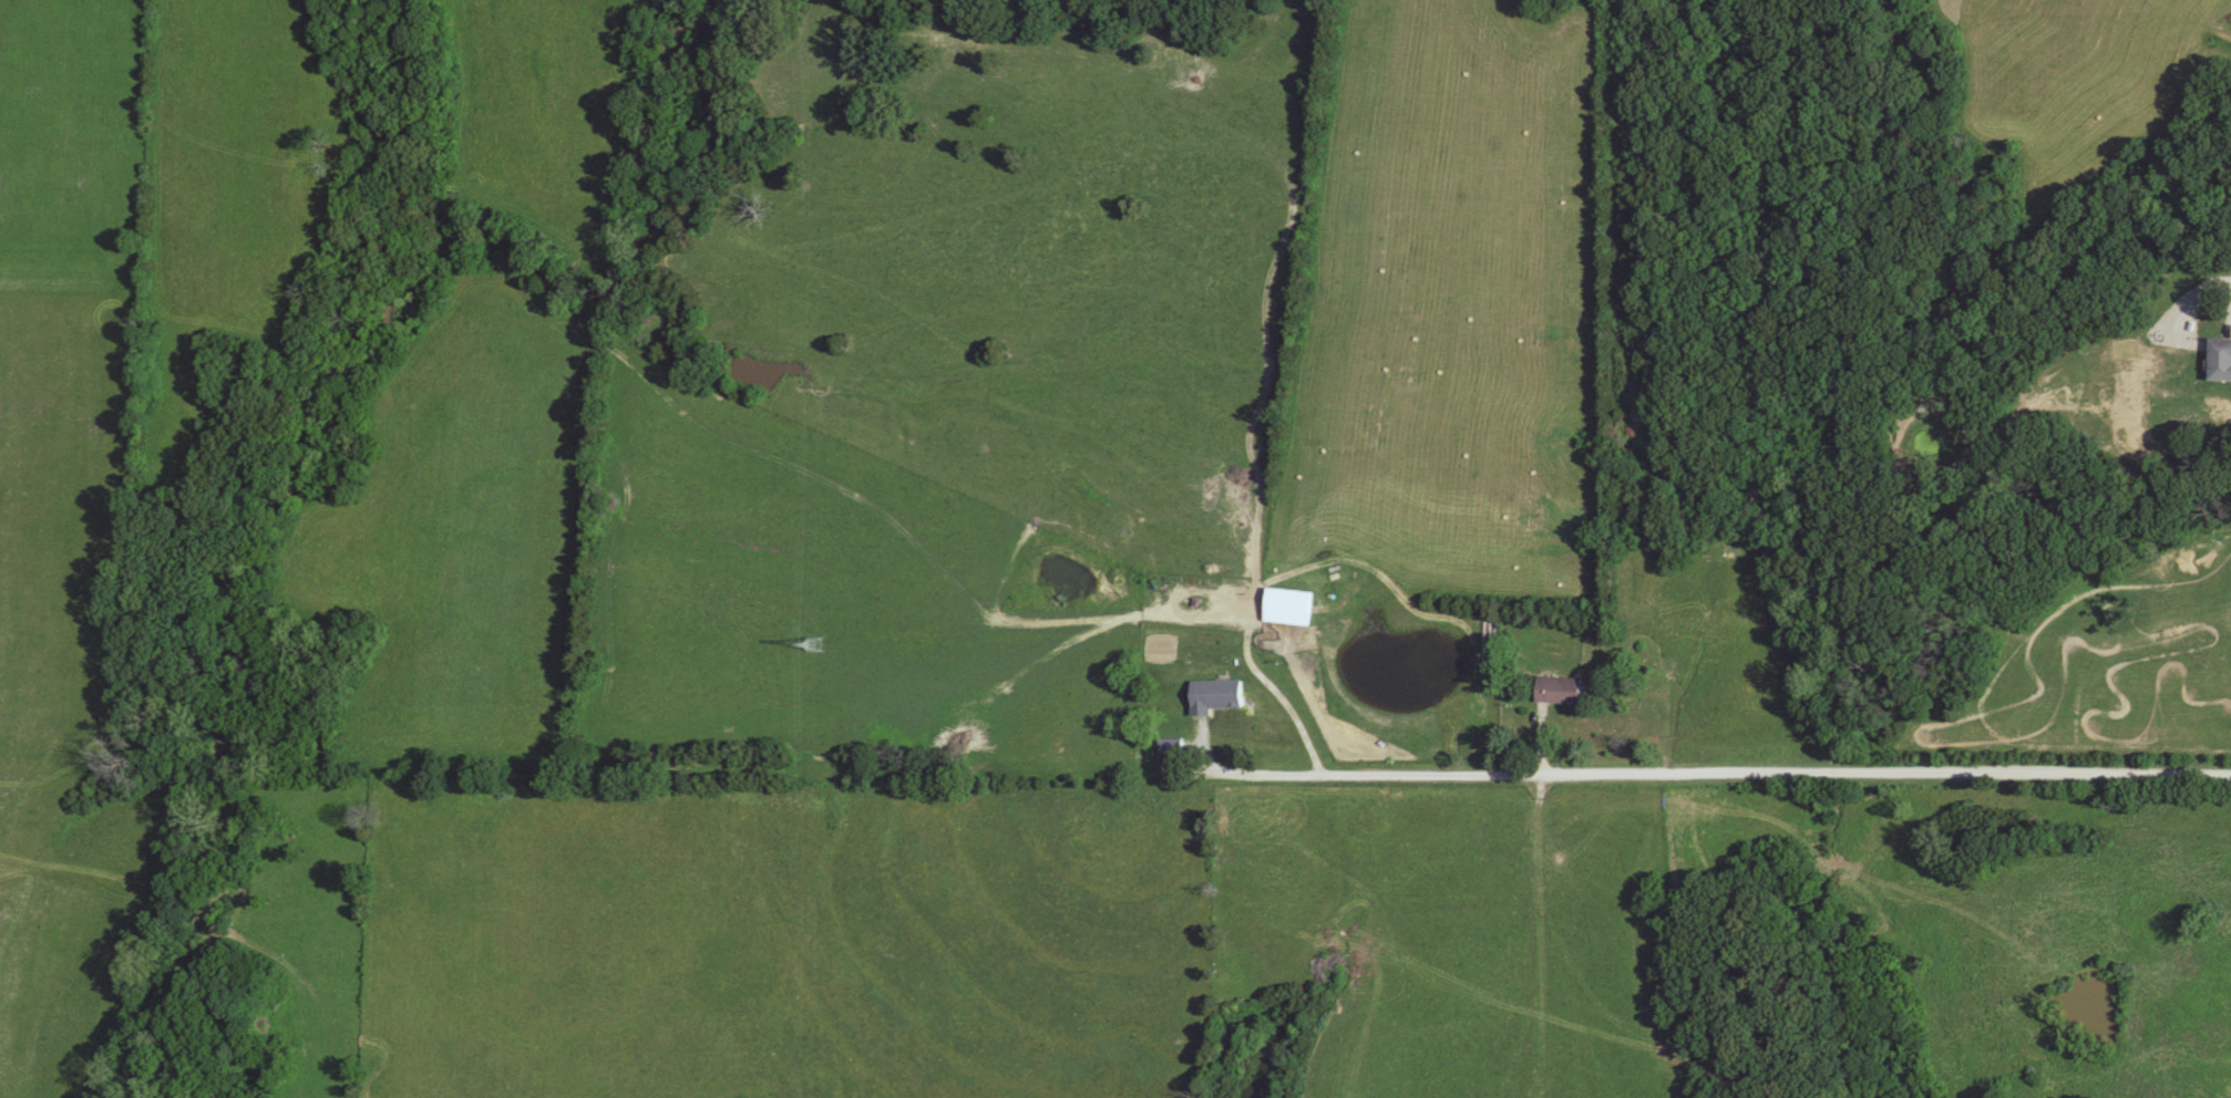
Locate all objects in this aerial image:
building: (2221, 361)
building: (1289, 609)
power tower: (813, 645)
road: (1273, 691)
building: (1560, 692)
building: (1217, 698)
road: (1658, 701)
road: (1774, 773)
road: (1241, 778)

